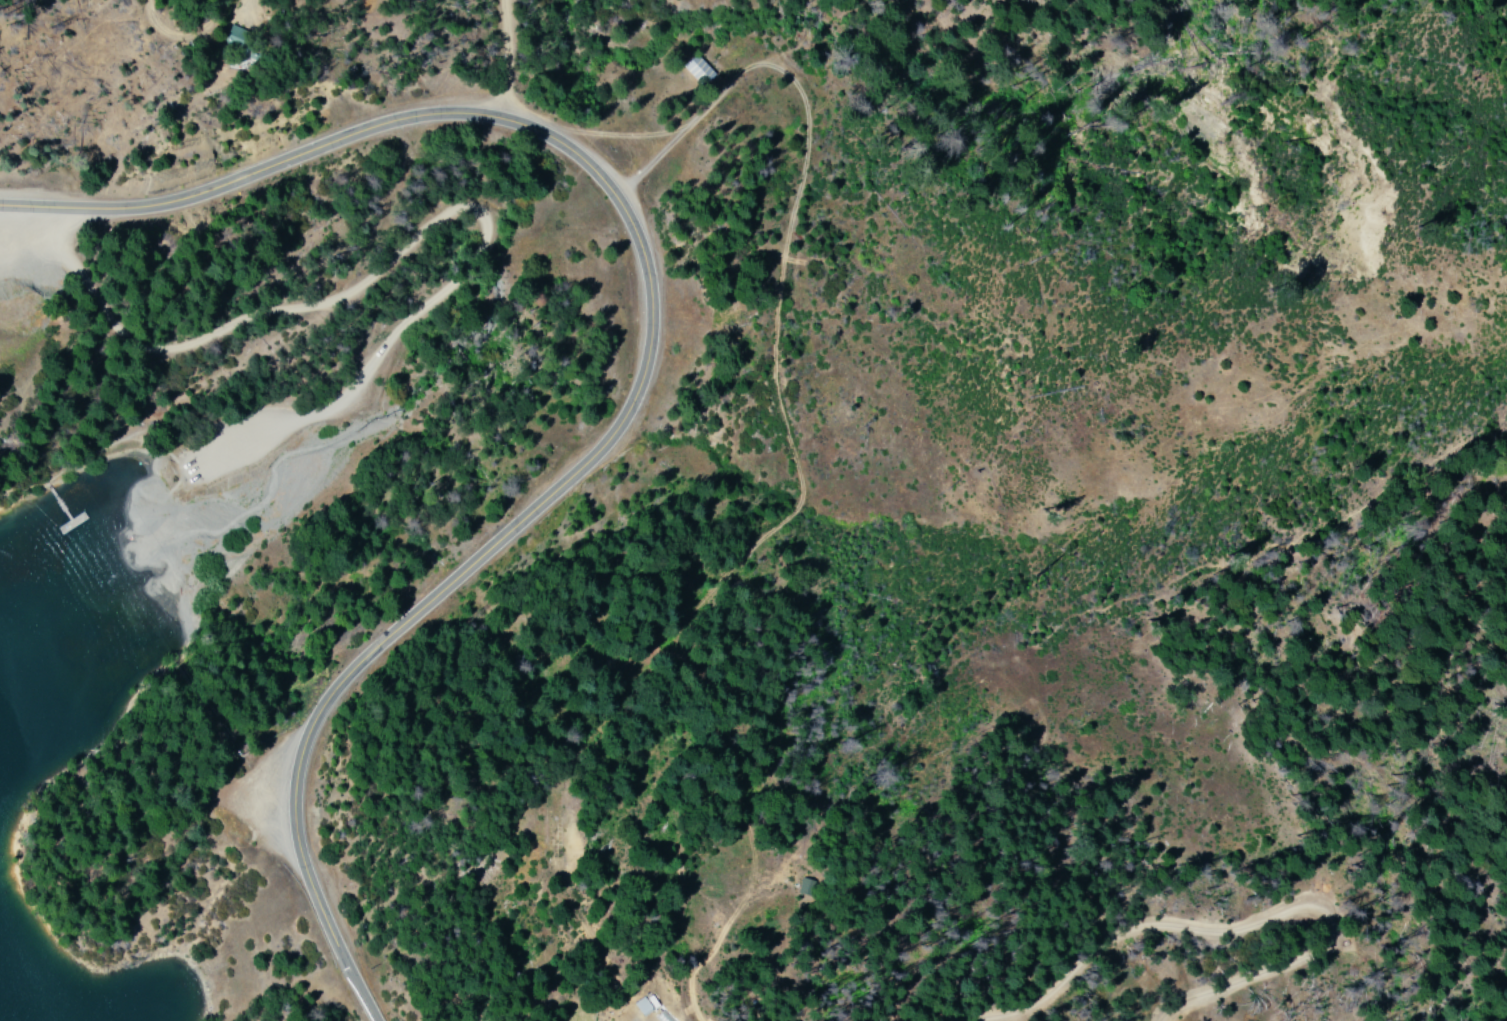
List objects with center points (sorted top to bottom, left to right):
road: (500, 75)
road: (433, 293)
road: (674, 355)
road: (1198, 875)
building: (641, 1006)

